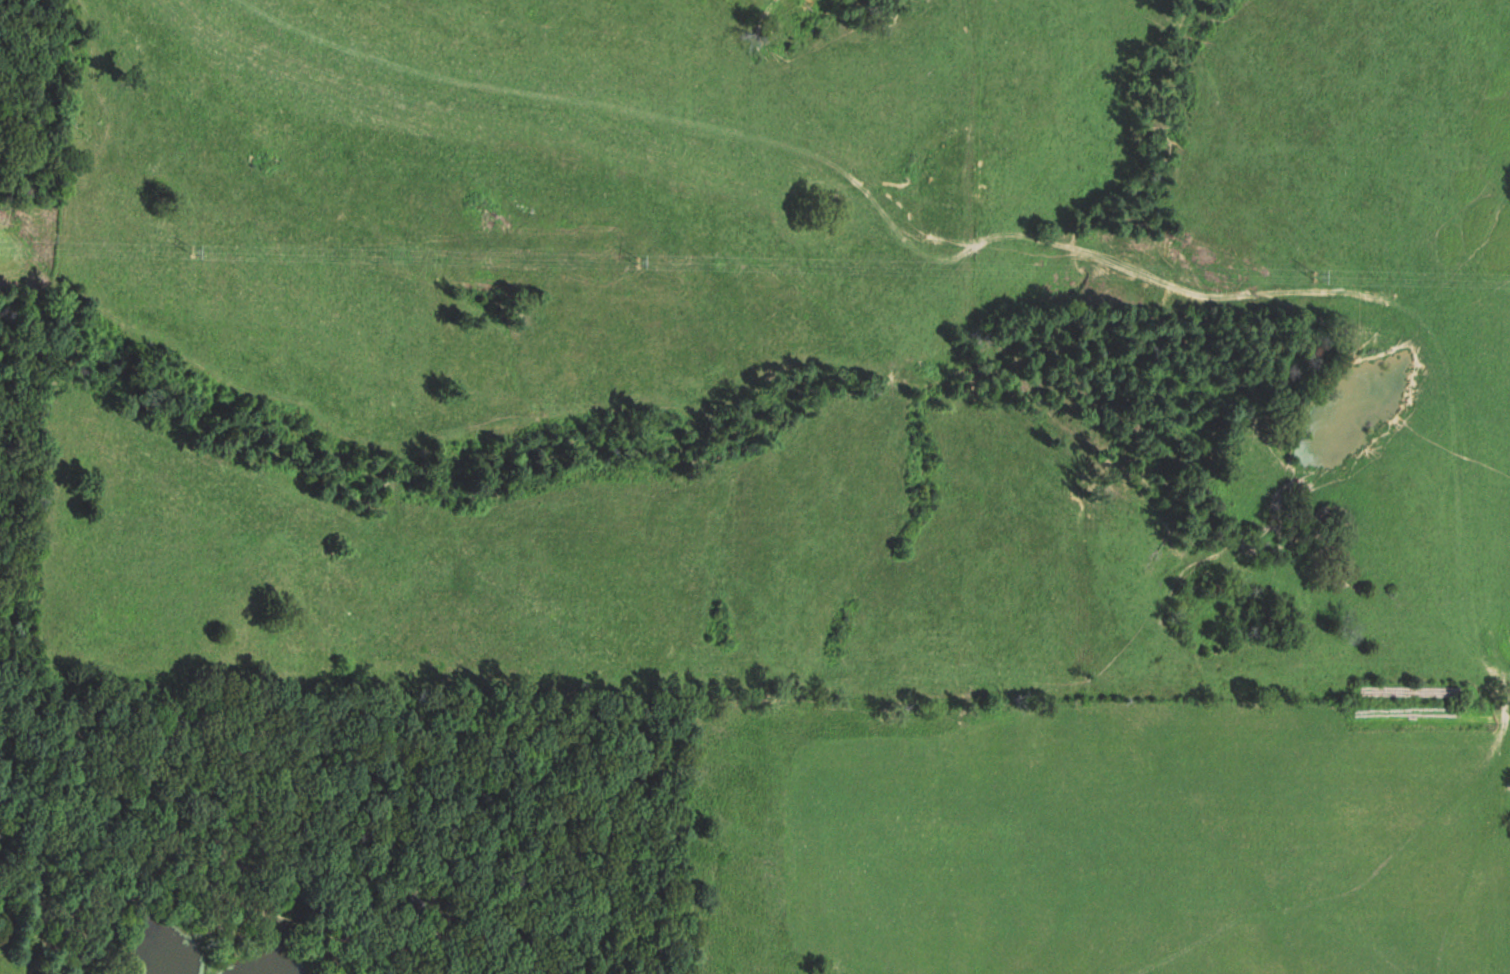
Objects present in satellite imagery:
road: (1482, 948)

